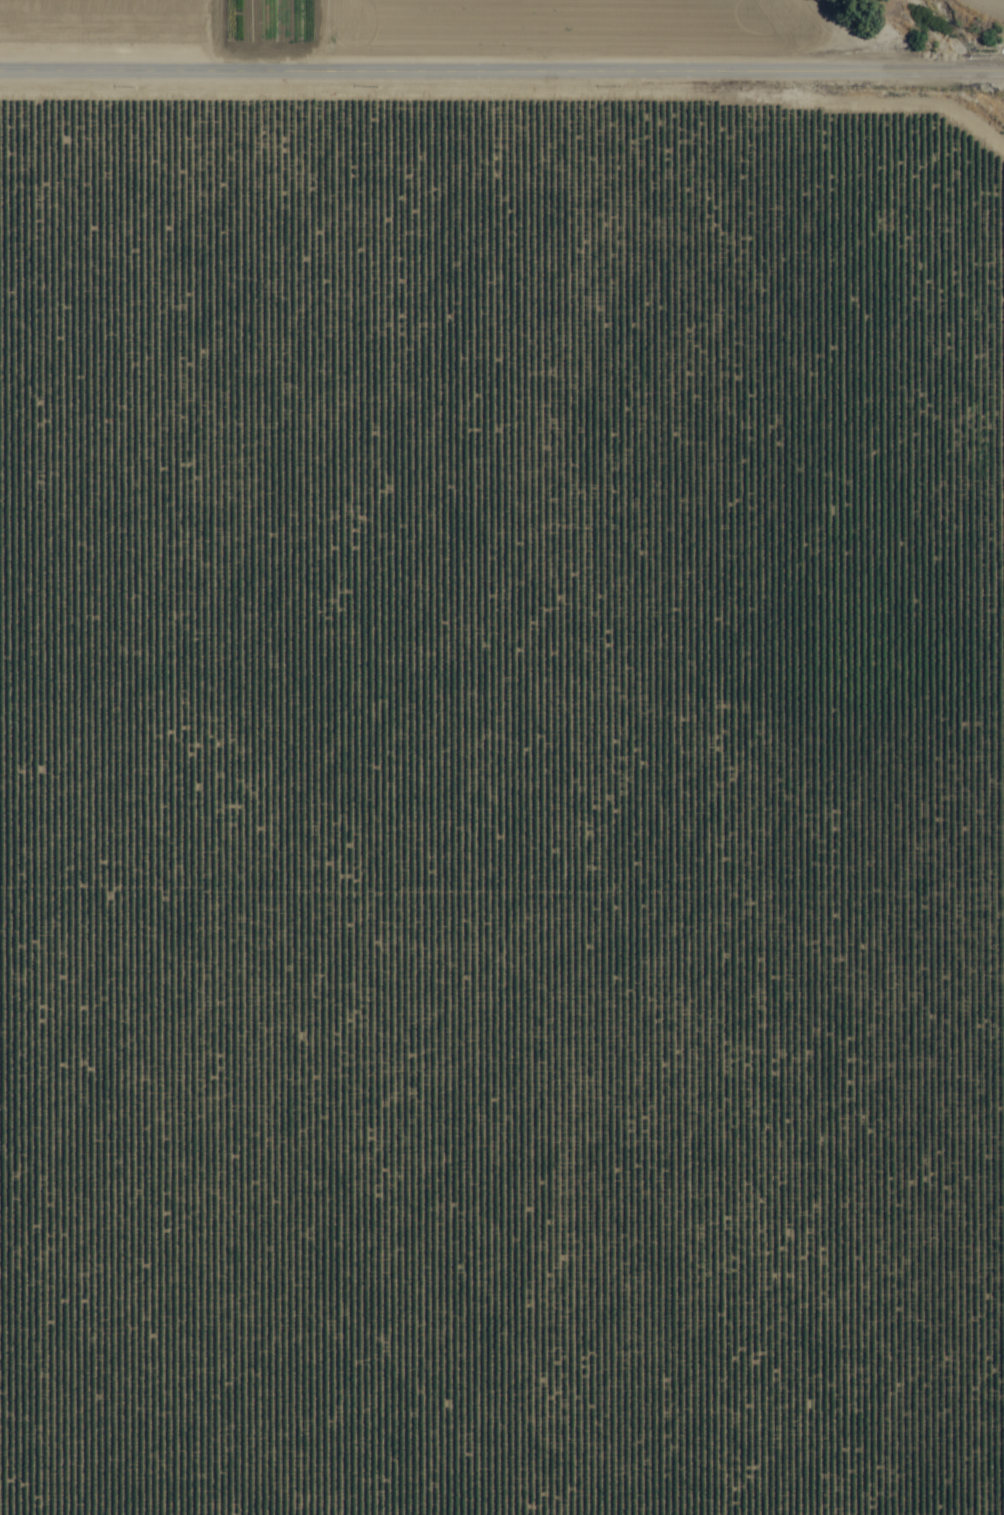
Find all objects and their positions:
road: (815, 35)
road: (502, 73)
wastewater plant: (877, 145)
crop: (501, 758)
road: (1002, 1411)

